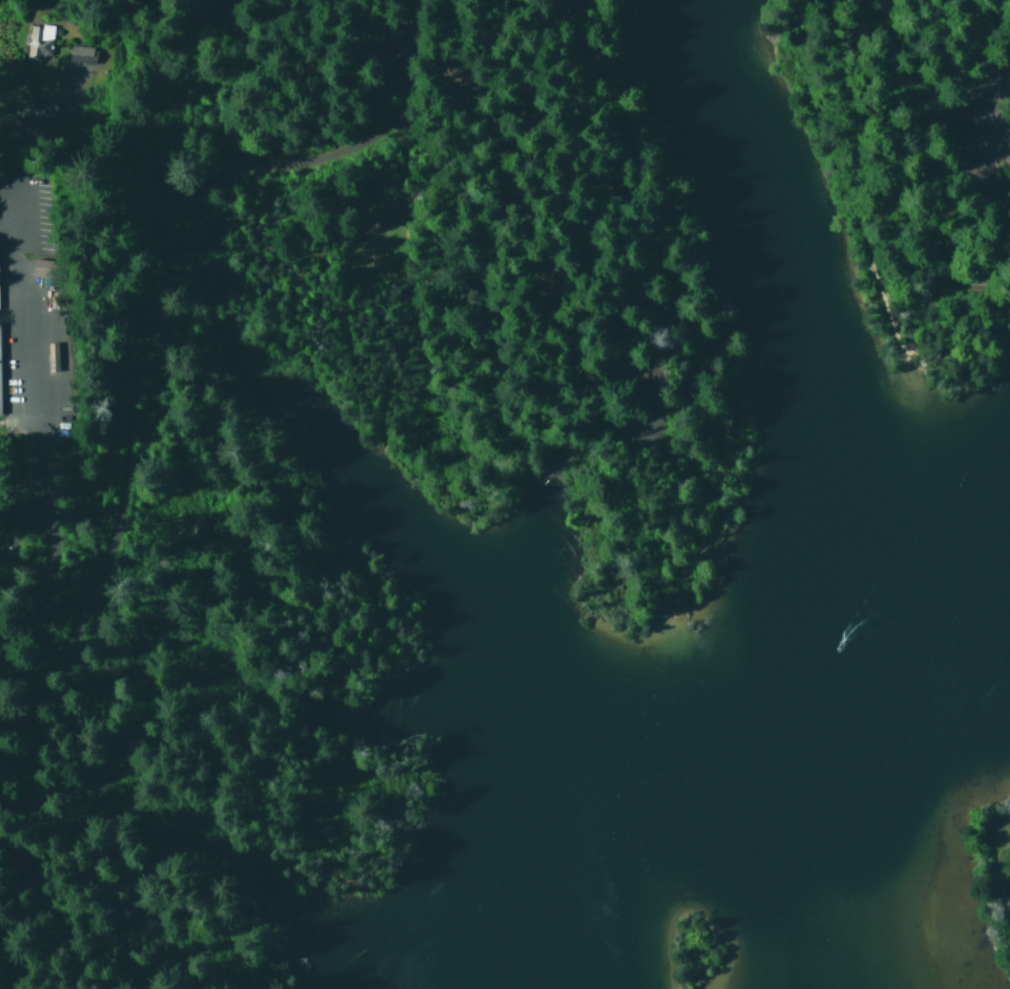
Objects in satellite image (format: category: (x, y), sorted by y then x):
road: (527, 17)
building: (37, 39)
building: (80, 53)
parking lot: (974, 121)
road: (970, 128)
road: (488, 154)
road: (974, 227)
road: (876, 244)
building: (42, 267)
road: (402, 295)
road: (141, 348)
building: (50, 350)
road: (583, 408)
road: (639, 522)
road: (667, 541)
road: (682, 554)
road: (285, 691)

